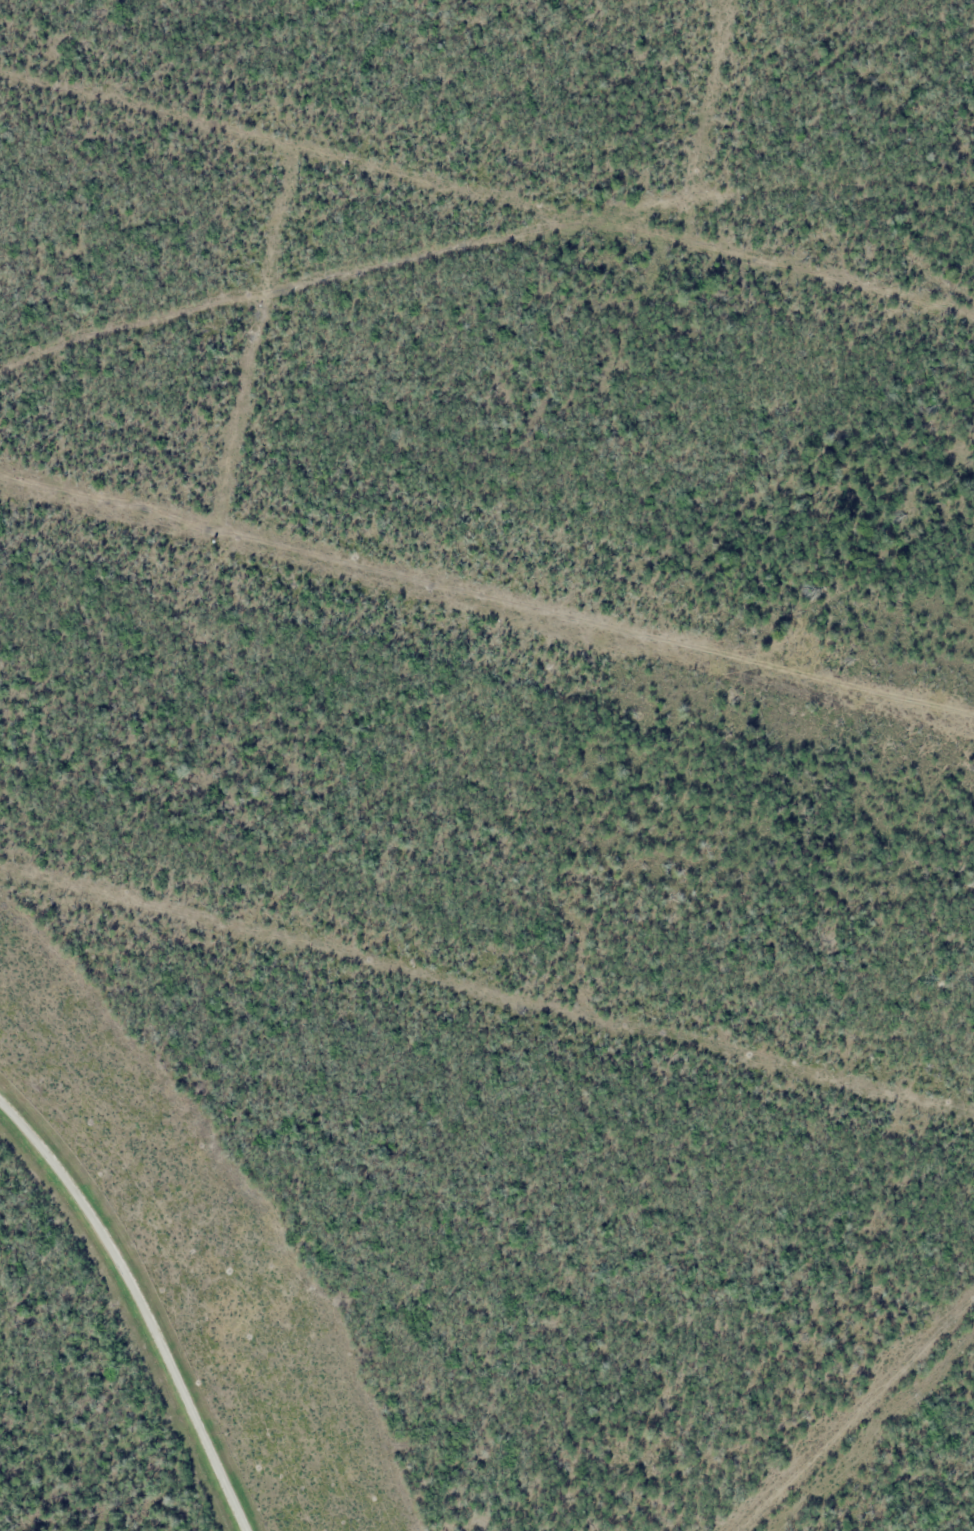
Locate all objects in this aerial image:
road: (143, 1302)

